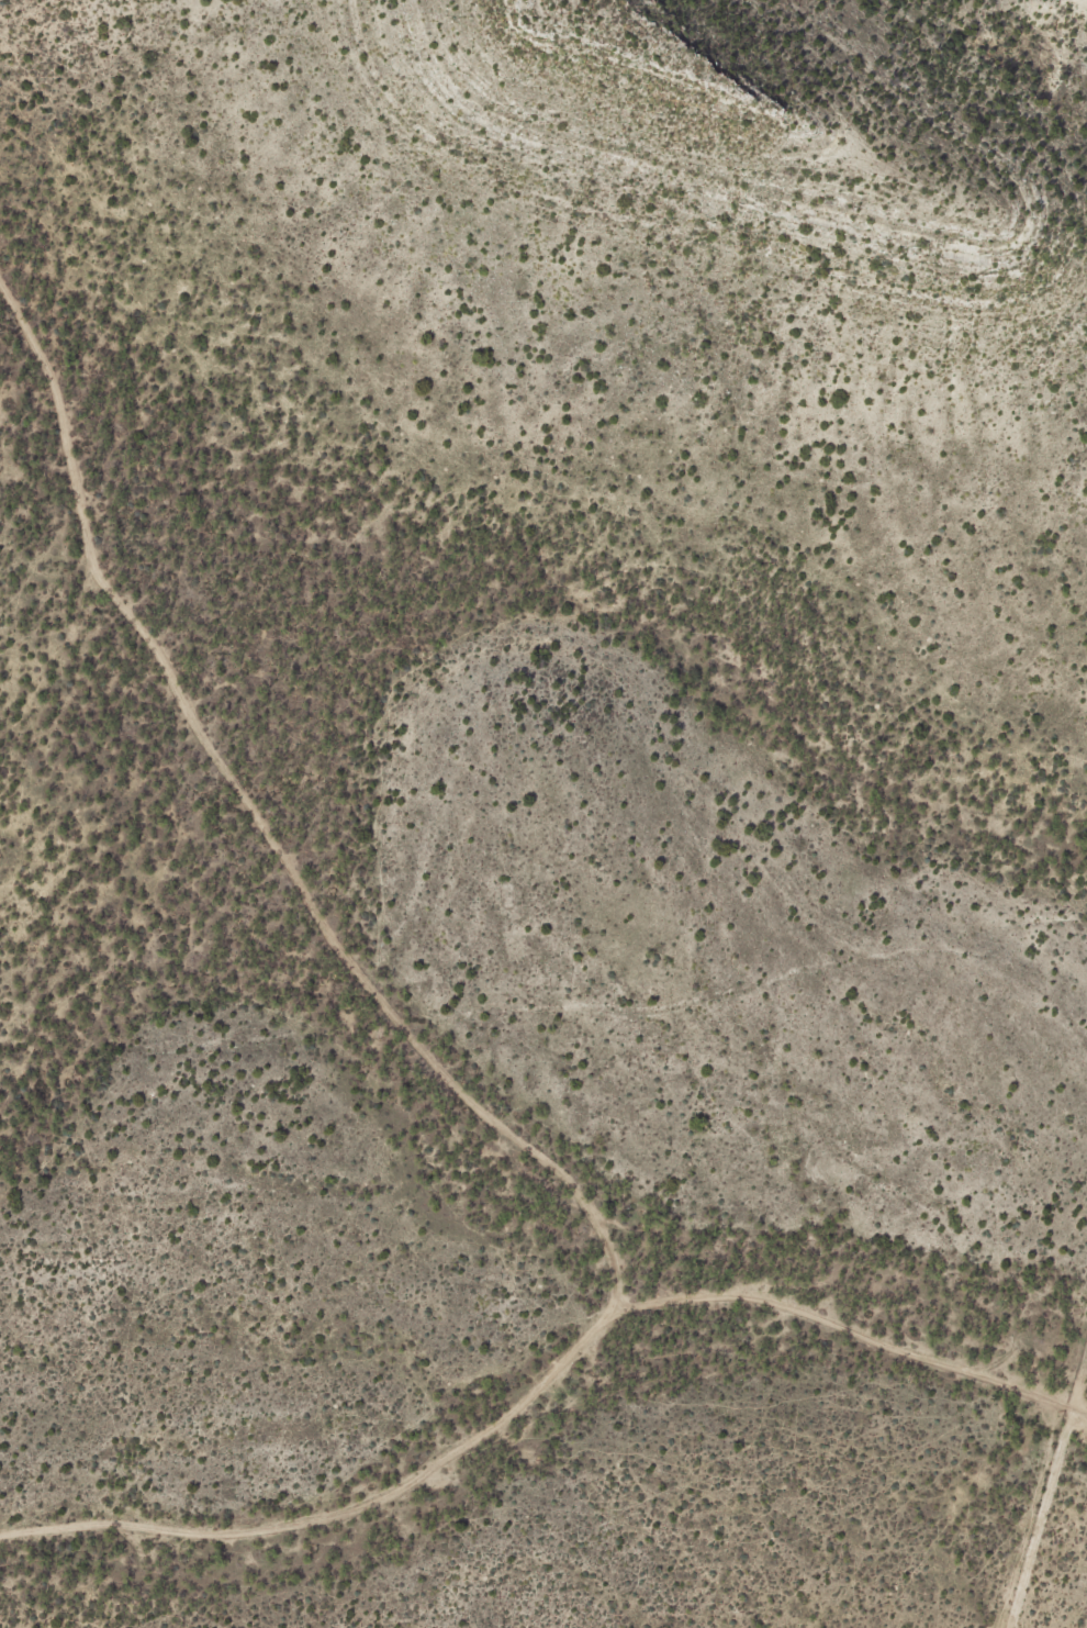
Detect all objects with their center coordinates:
road: (254, 833)
road: (543, 1381)
road: (1044, 1479)

